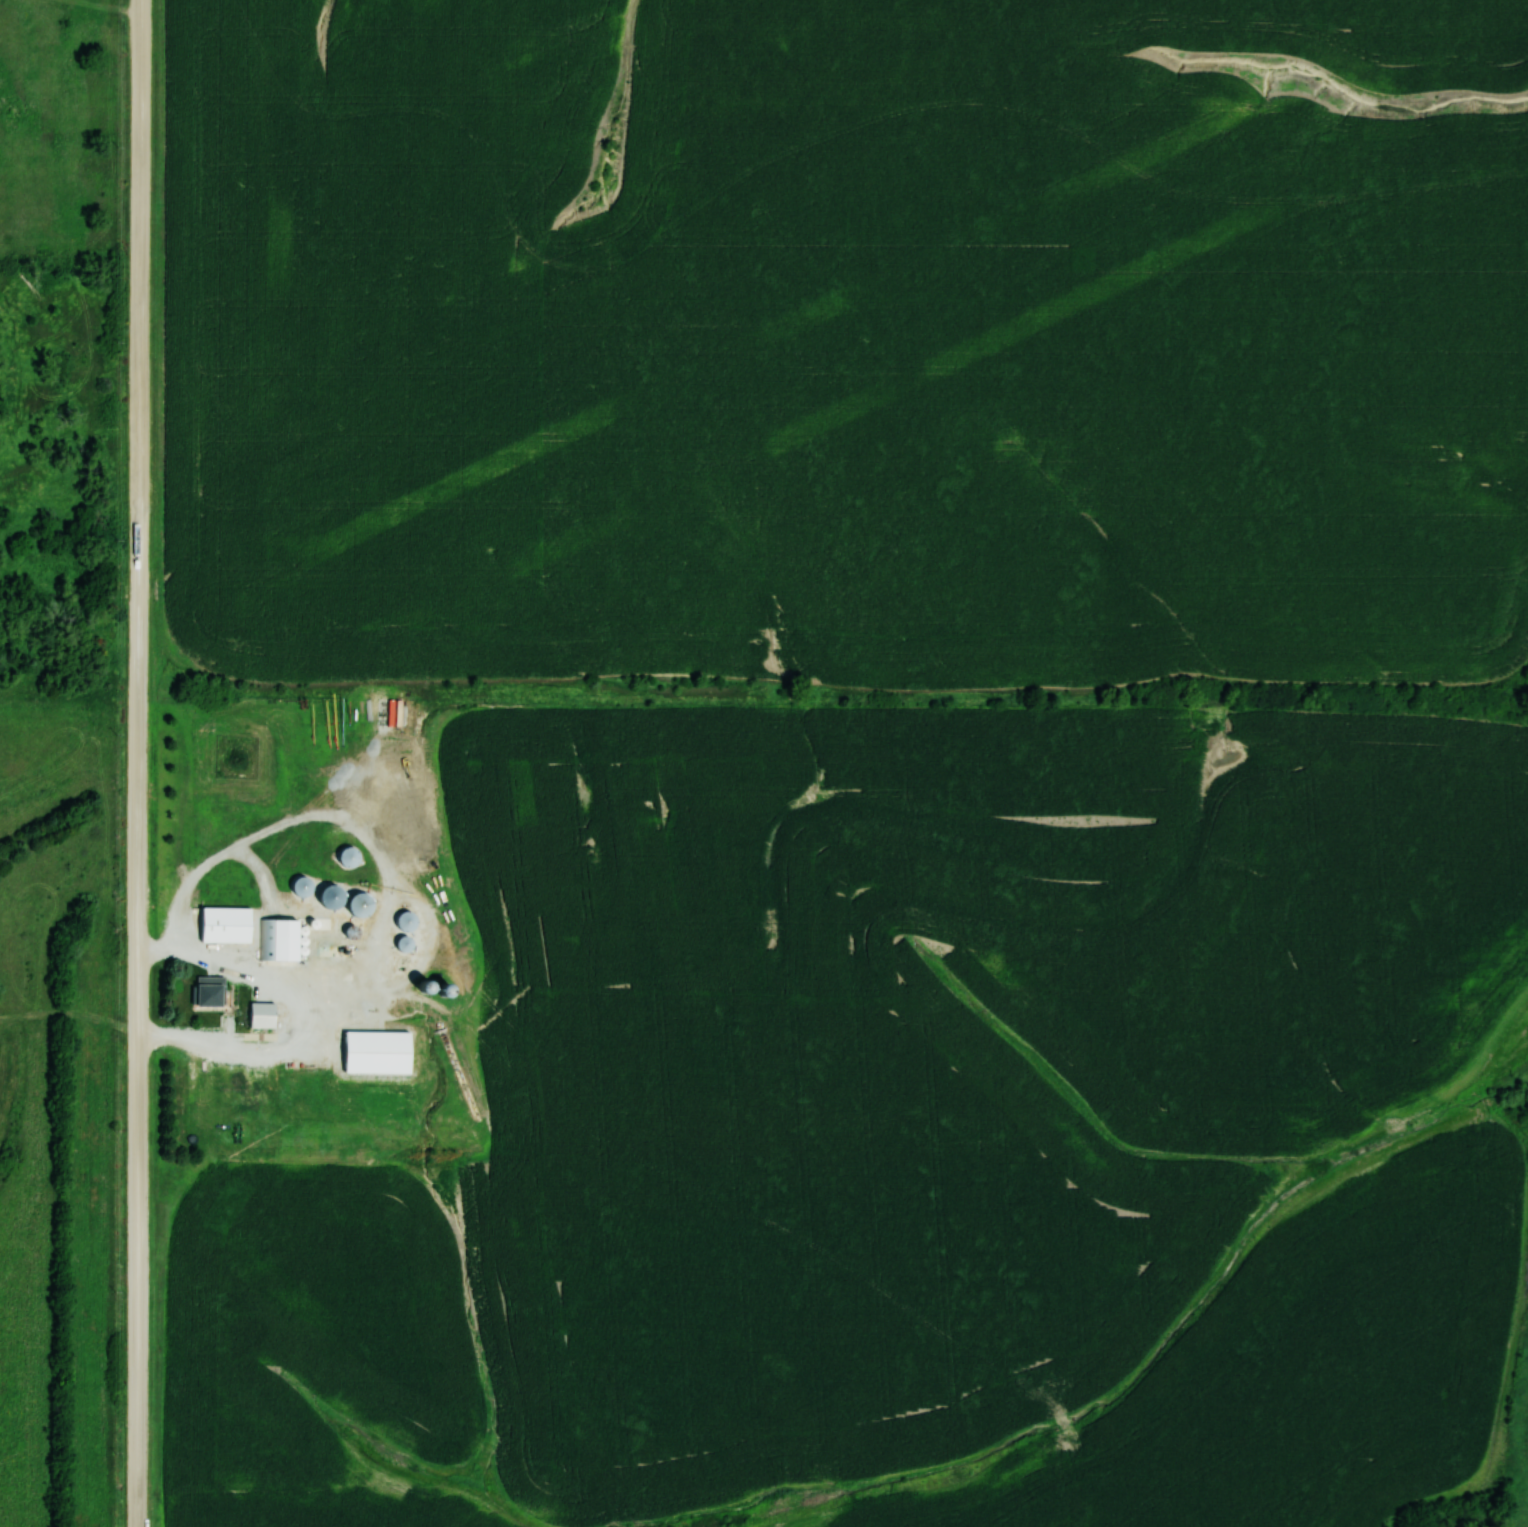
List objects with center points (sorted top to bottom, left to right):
road: (140, 763)
building: (301, 886)
building: (329, 896)
building: (358, 903)
building: (404, 920)
building: (224, 924)
building: (273, 939)
building: (402, 943)
building: (441, 988)
building: (209, 990)
building: (261, 1015)
building: (375, 1052)

